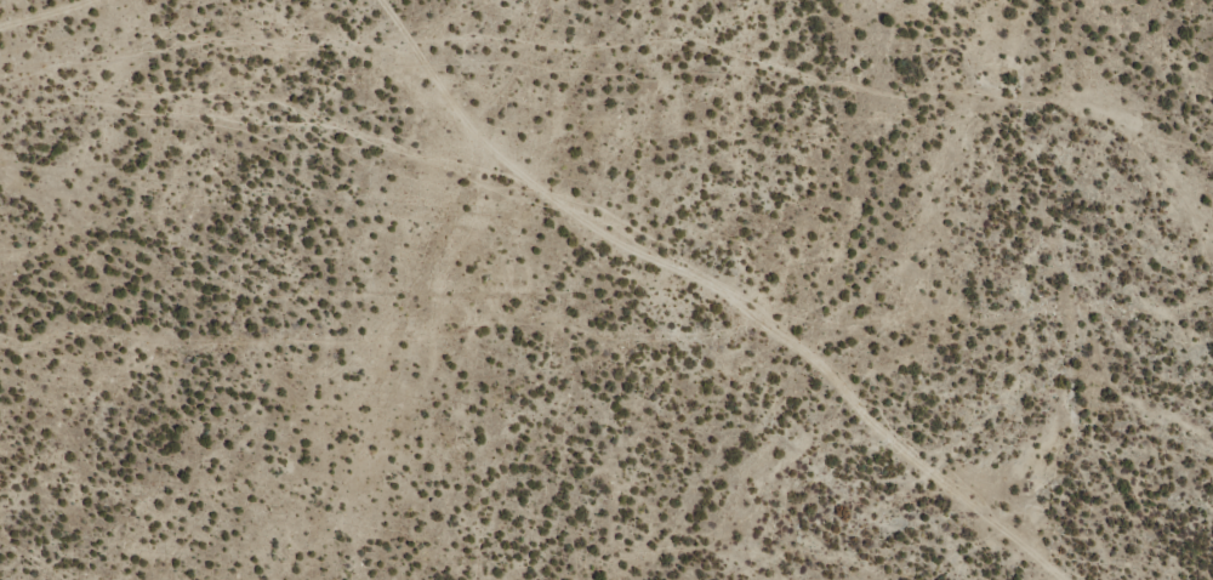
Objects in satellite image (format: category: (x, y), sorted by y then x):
road: (707, 332)

